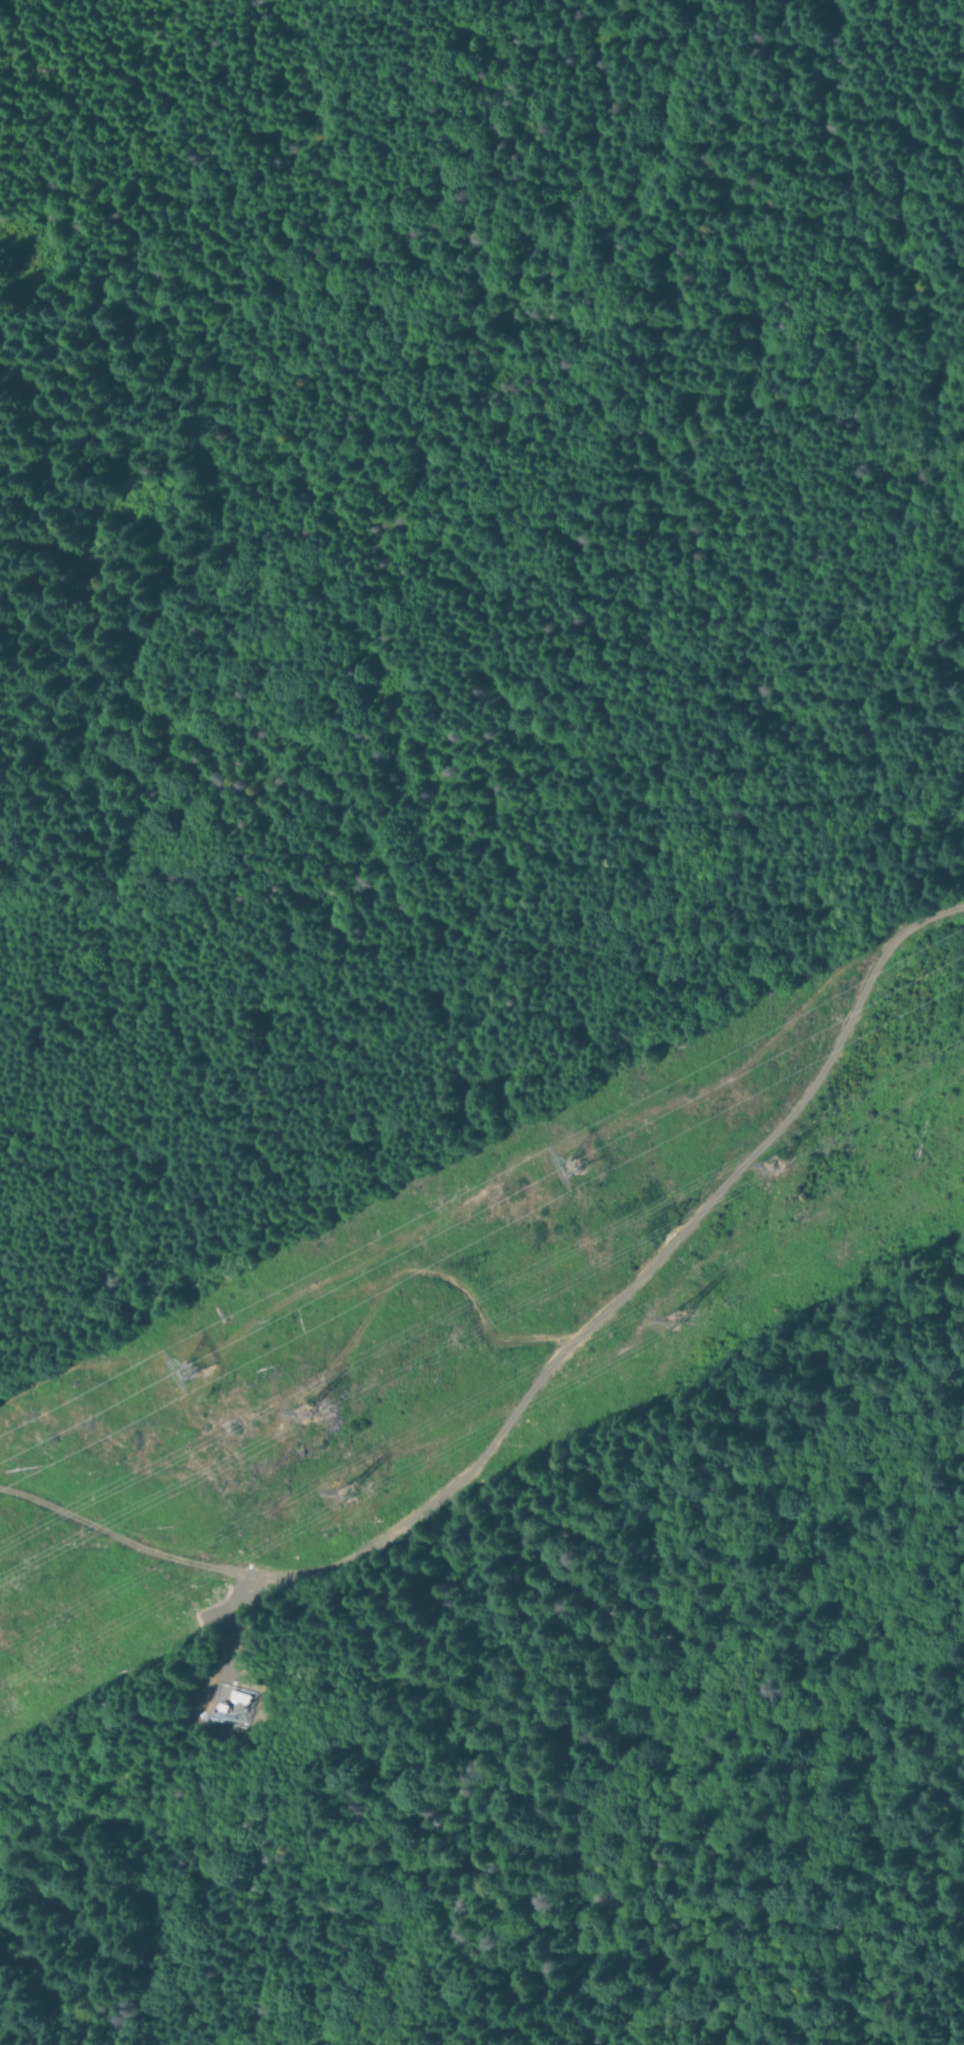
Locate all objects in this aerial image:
power tower: (570, 1165)
power tower: (764, 1166)
power tower: (670, 1313)
power tower: (192, 1365)
road: (541, 1371)
power tower: (308, 1414)
power tower: (339, 1492)
road: (953, 2028)

